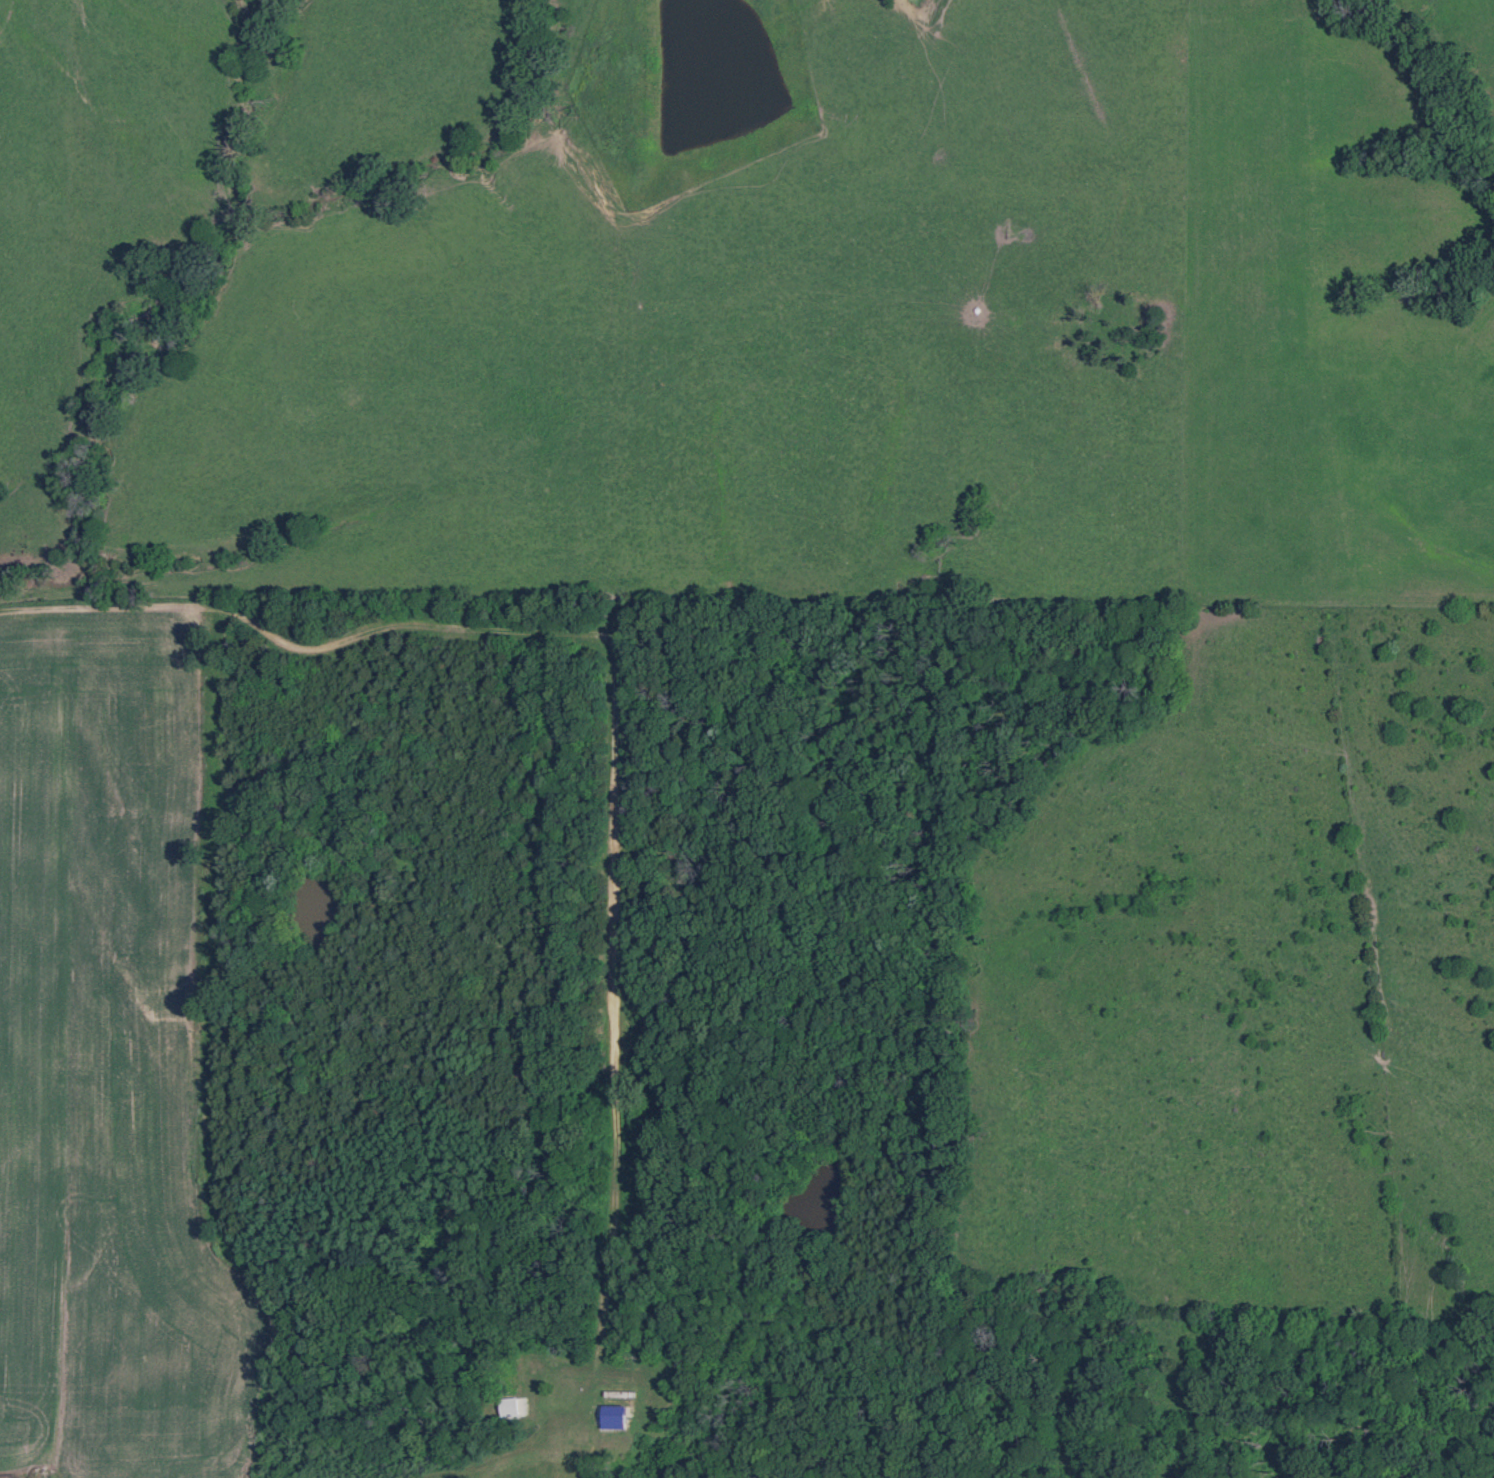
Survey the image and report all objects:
road: (1115, 145)
road: (618, 705)
building: (617, 1410)

